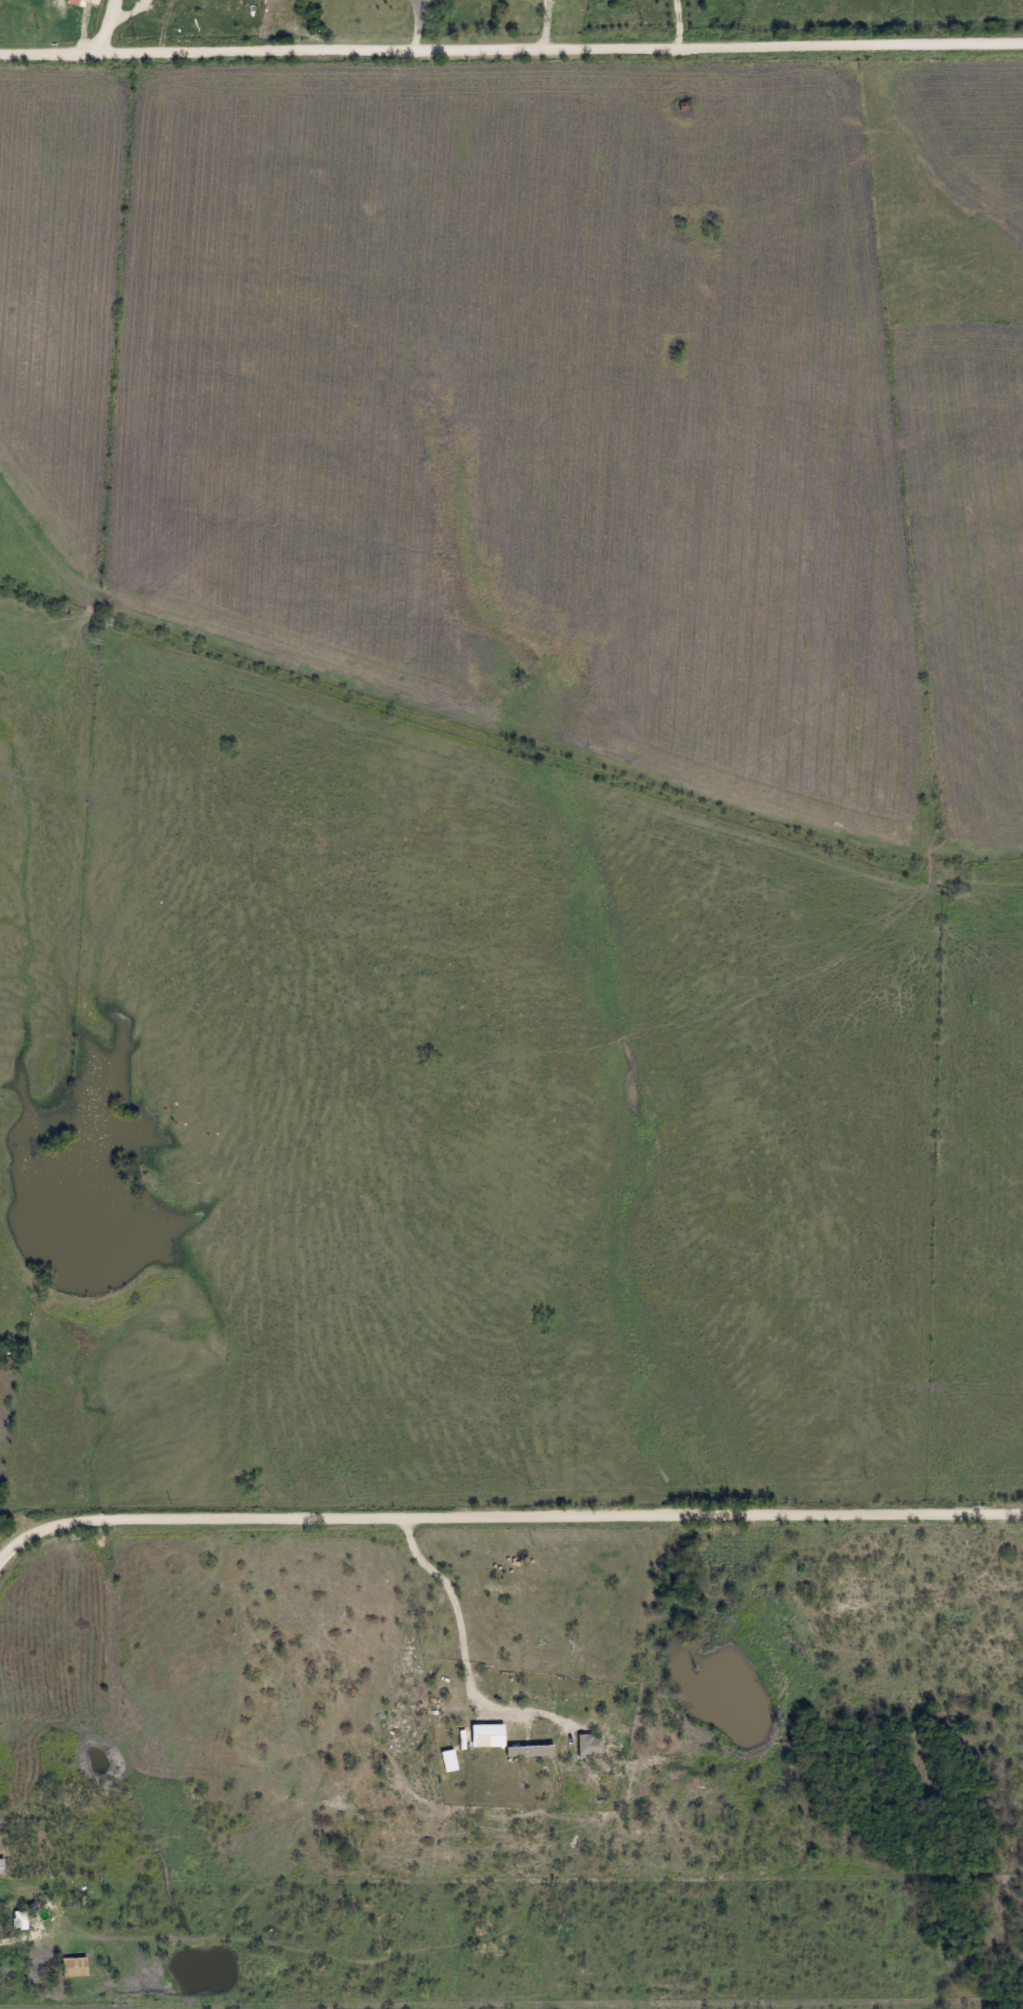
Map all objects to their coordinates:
road: (127, 15)
road: (548, 23)
road: (680, 23)
road: (108, 24)
road: (562, 46)
road: (50, 51)
road: (503, 1515)
road: (44, 1805)
road: (41, 1855)

